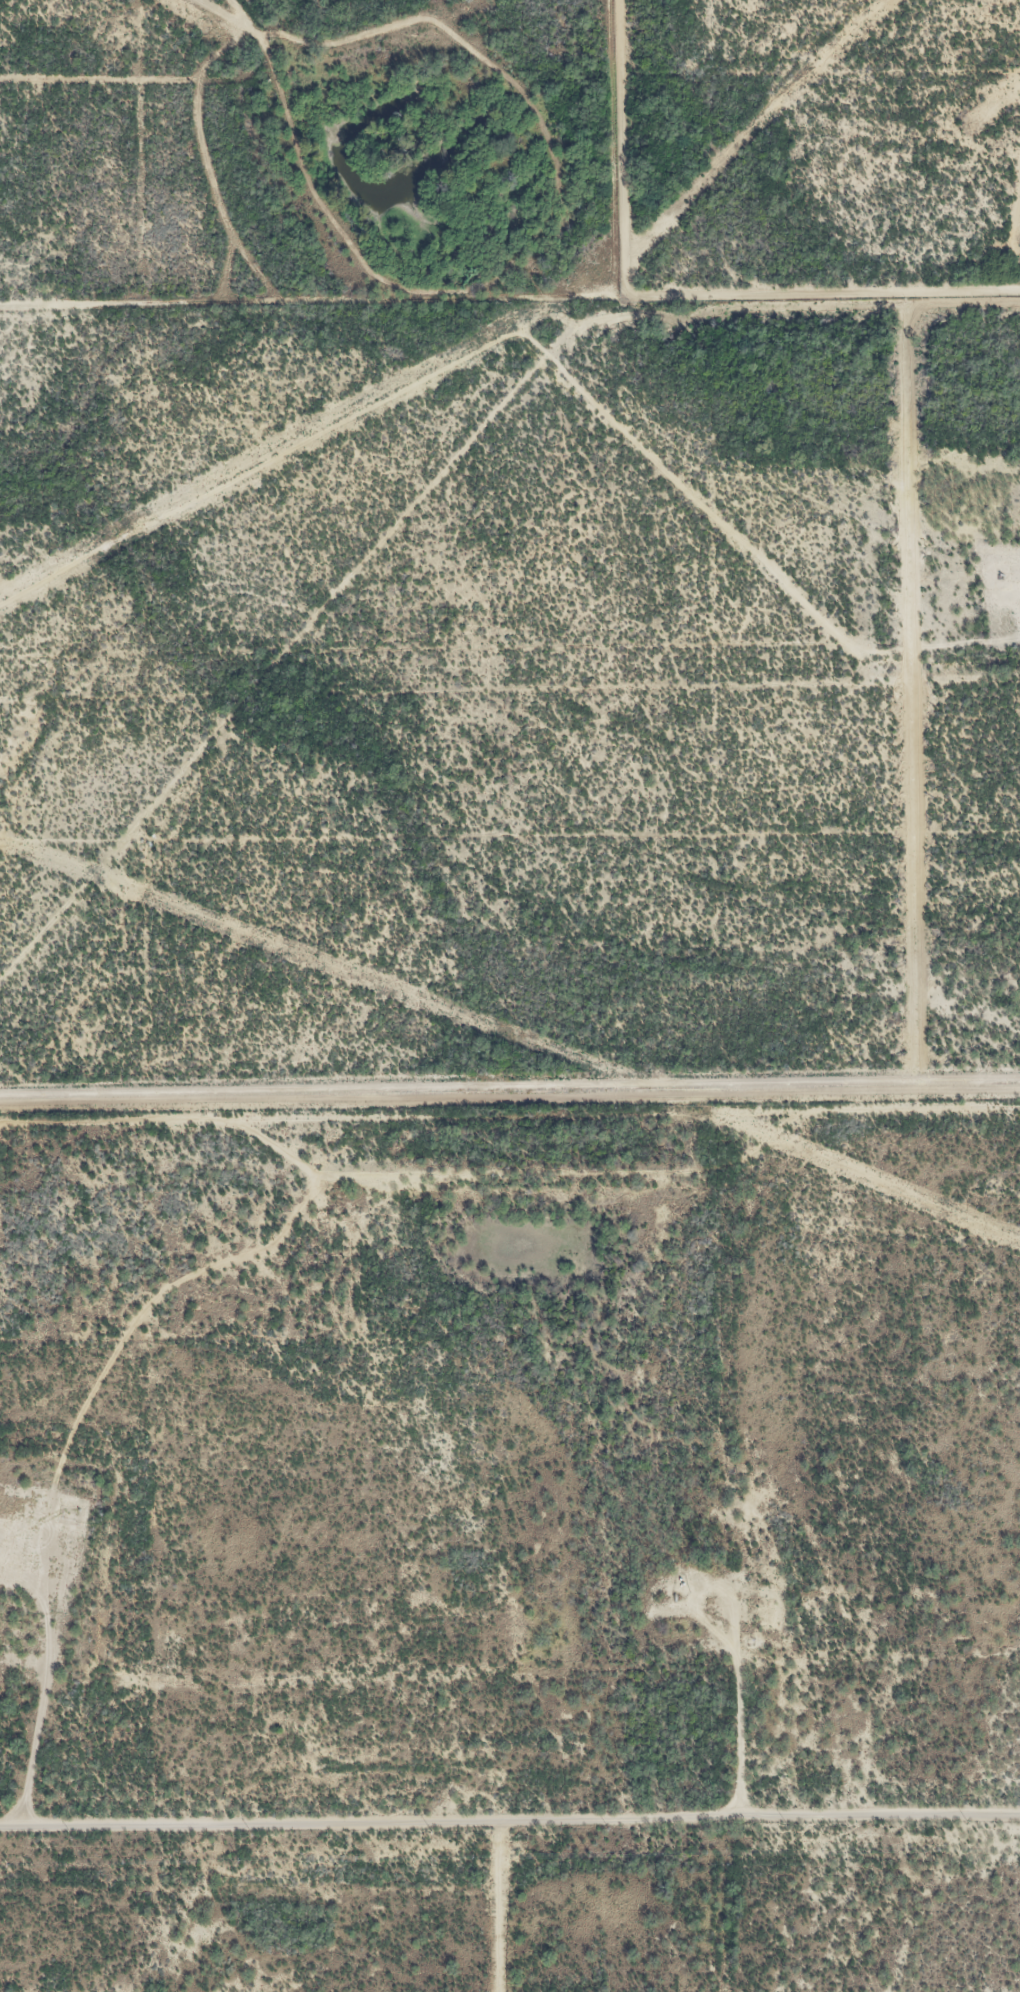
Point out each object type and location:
road: (266, 29)
road: (509, 1090)
road: (510, 1826)

